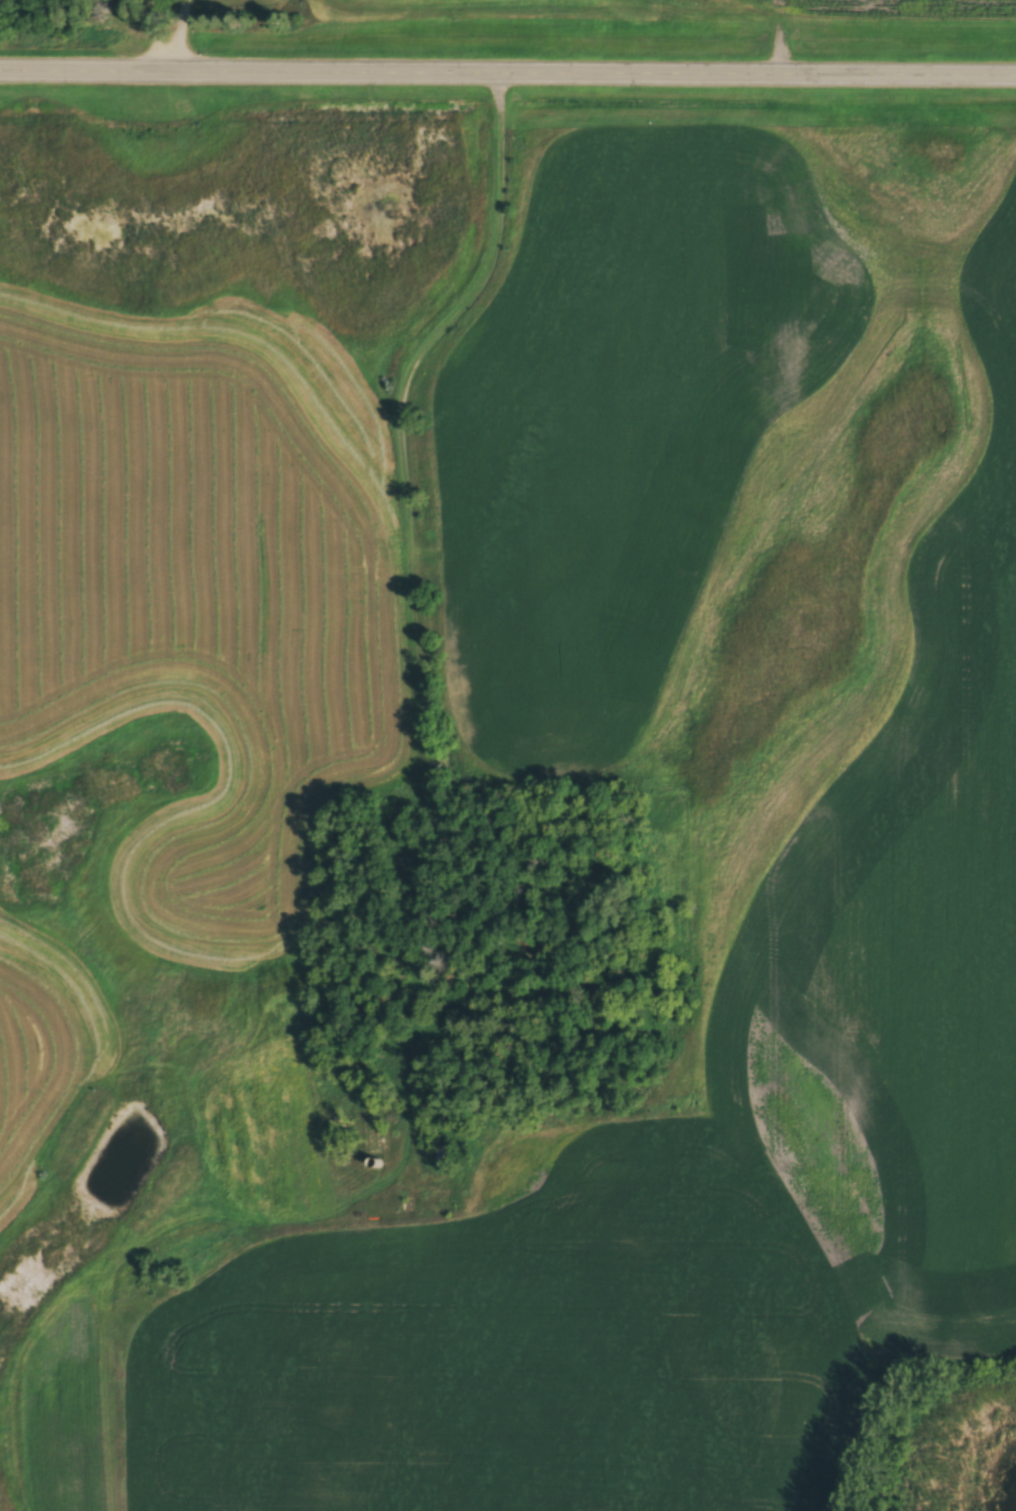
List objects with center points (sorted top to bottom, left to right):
road: (159, 17)
road: (508, 37)
building: (439, 1159)

